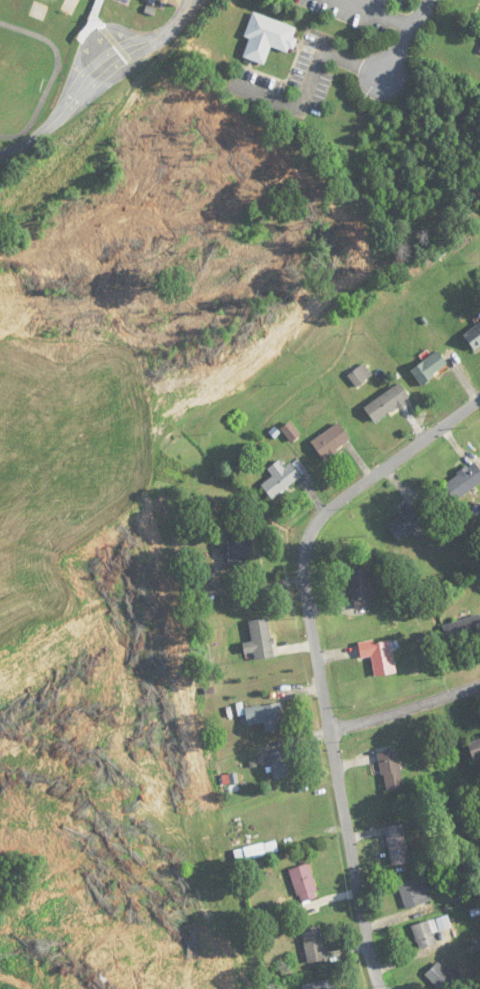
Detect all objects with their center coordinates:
building: (173, 2)
building: (267, 37)
road: (408, 38)
road: (94, 75)
road: (309, 82)
building: (474, 338)
building: (429, 367)
building: (360, 375)
building: (387, 403)
building: (331, 441)
crop: (67, 464)
building: (280, 478)
building: (464, 481)
building: (407, 521)
building: (239, 552)
building: (360, 588)
building: (462, 628)
building: (260, 640)
road: (316, 654)
building: (378, 655)
road: (405, 708)
building: (266, 716)
building: (474, 747)
building: (280, 763)
building: (391, 771)
building: (397, 844)
building: (303, 883)
building: (413, 892)
building: (429, 930)
building: (313, 944)
building: (442, 976)
building: (320, 985)
road: (457, 986)

